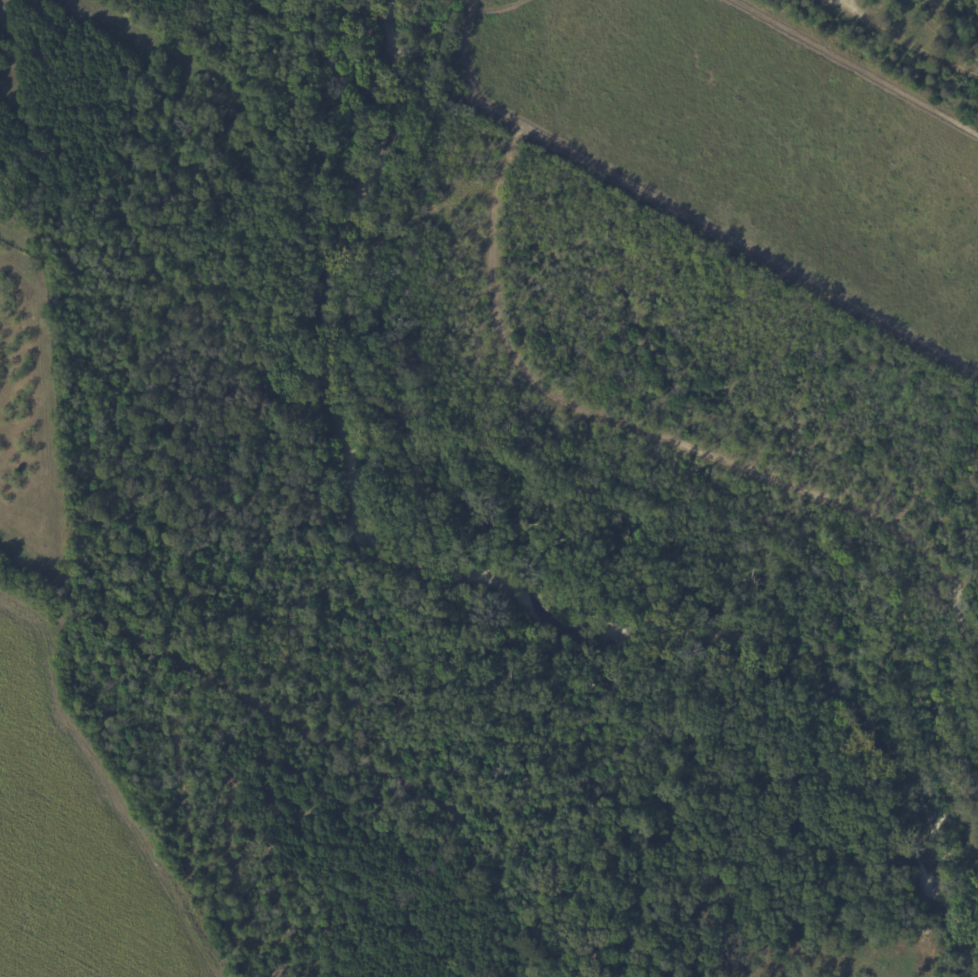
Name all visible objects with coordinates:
crop: (85, 841)

